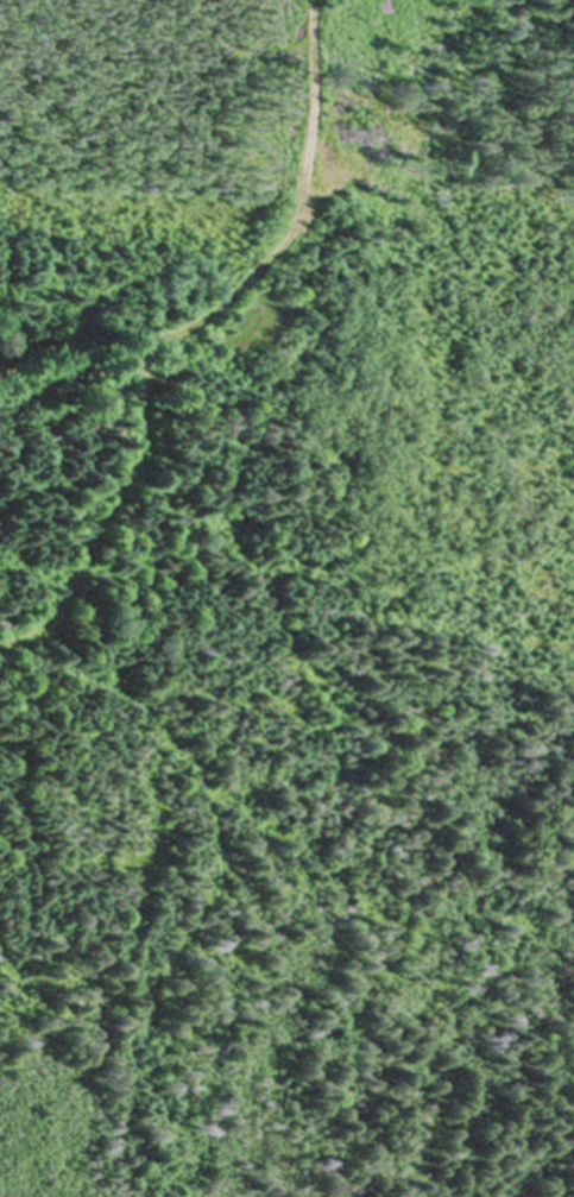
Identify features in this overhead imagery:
road: (210, 248)

